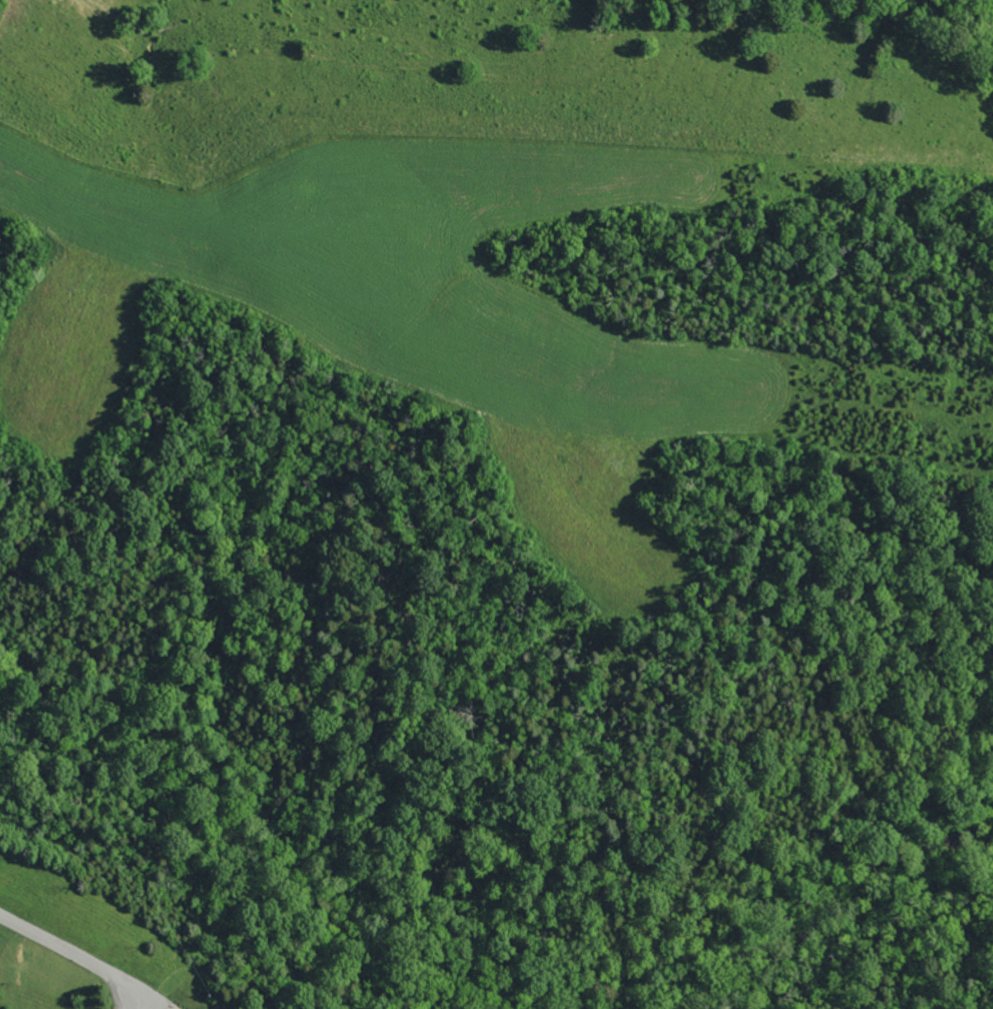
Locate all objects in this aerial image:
road: (76, 961)

